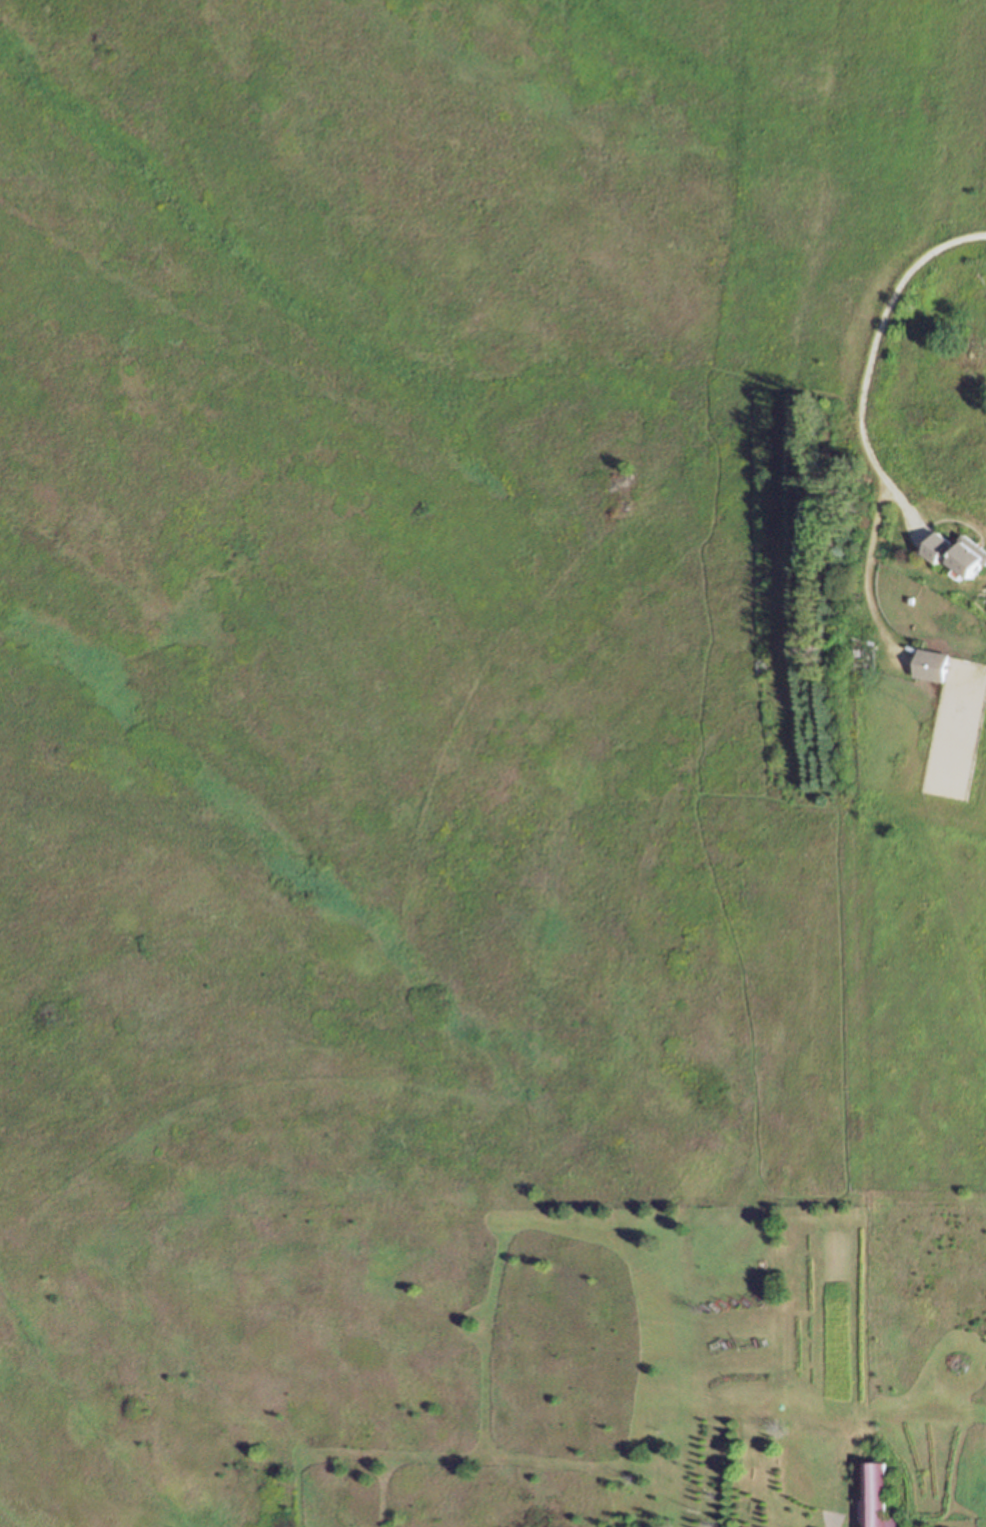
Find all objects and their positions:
road: (873, 364)
building: (958, 553)
road: (869, 566)
building: (934, 663)
building: (825, 1447)
building: (827, 1475)
building: (823, 1491)
building: (876, 1496)

